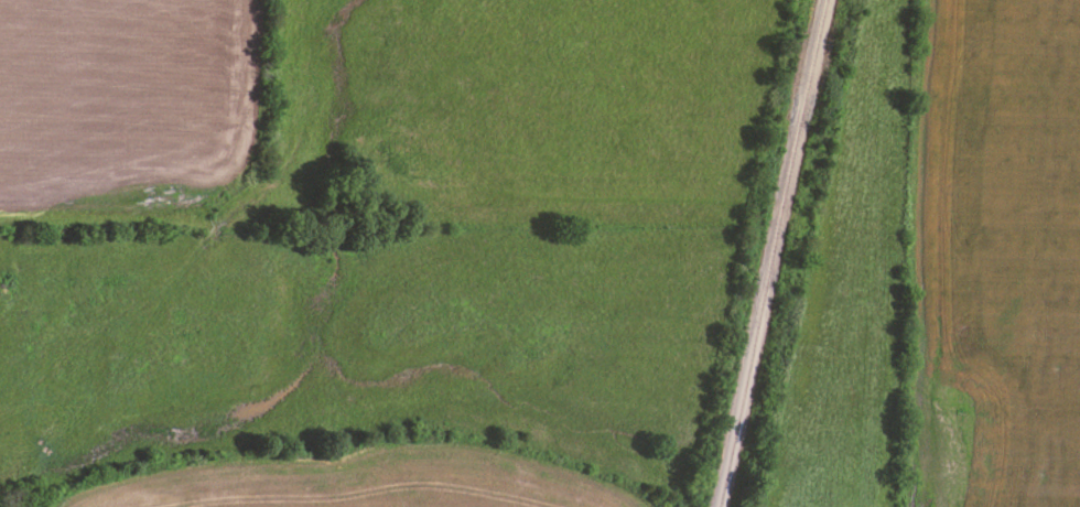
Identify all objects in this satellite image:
railway: (771, 253)

